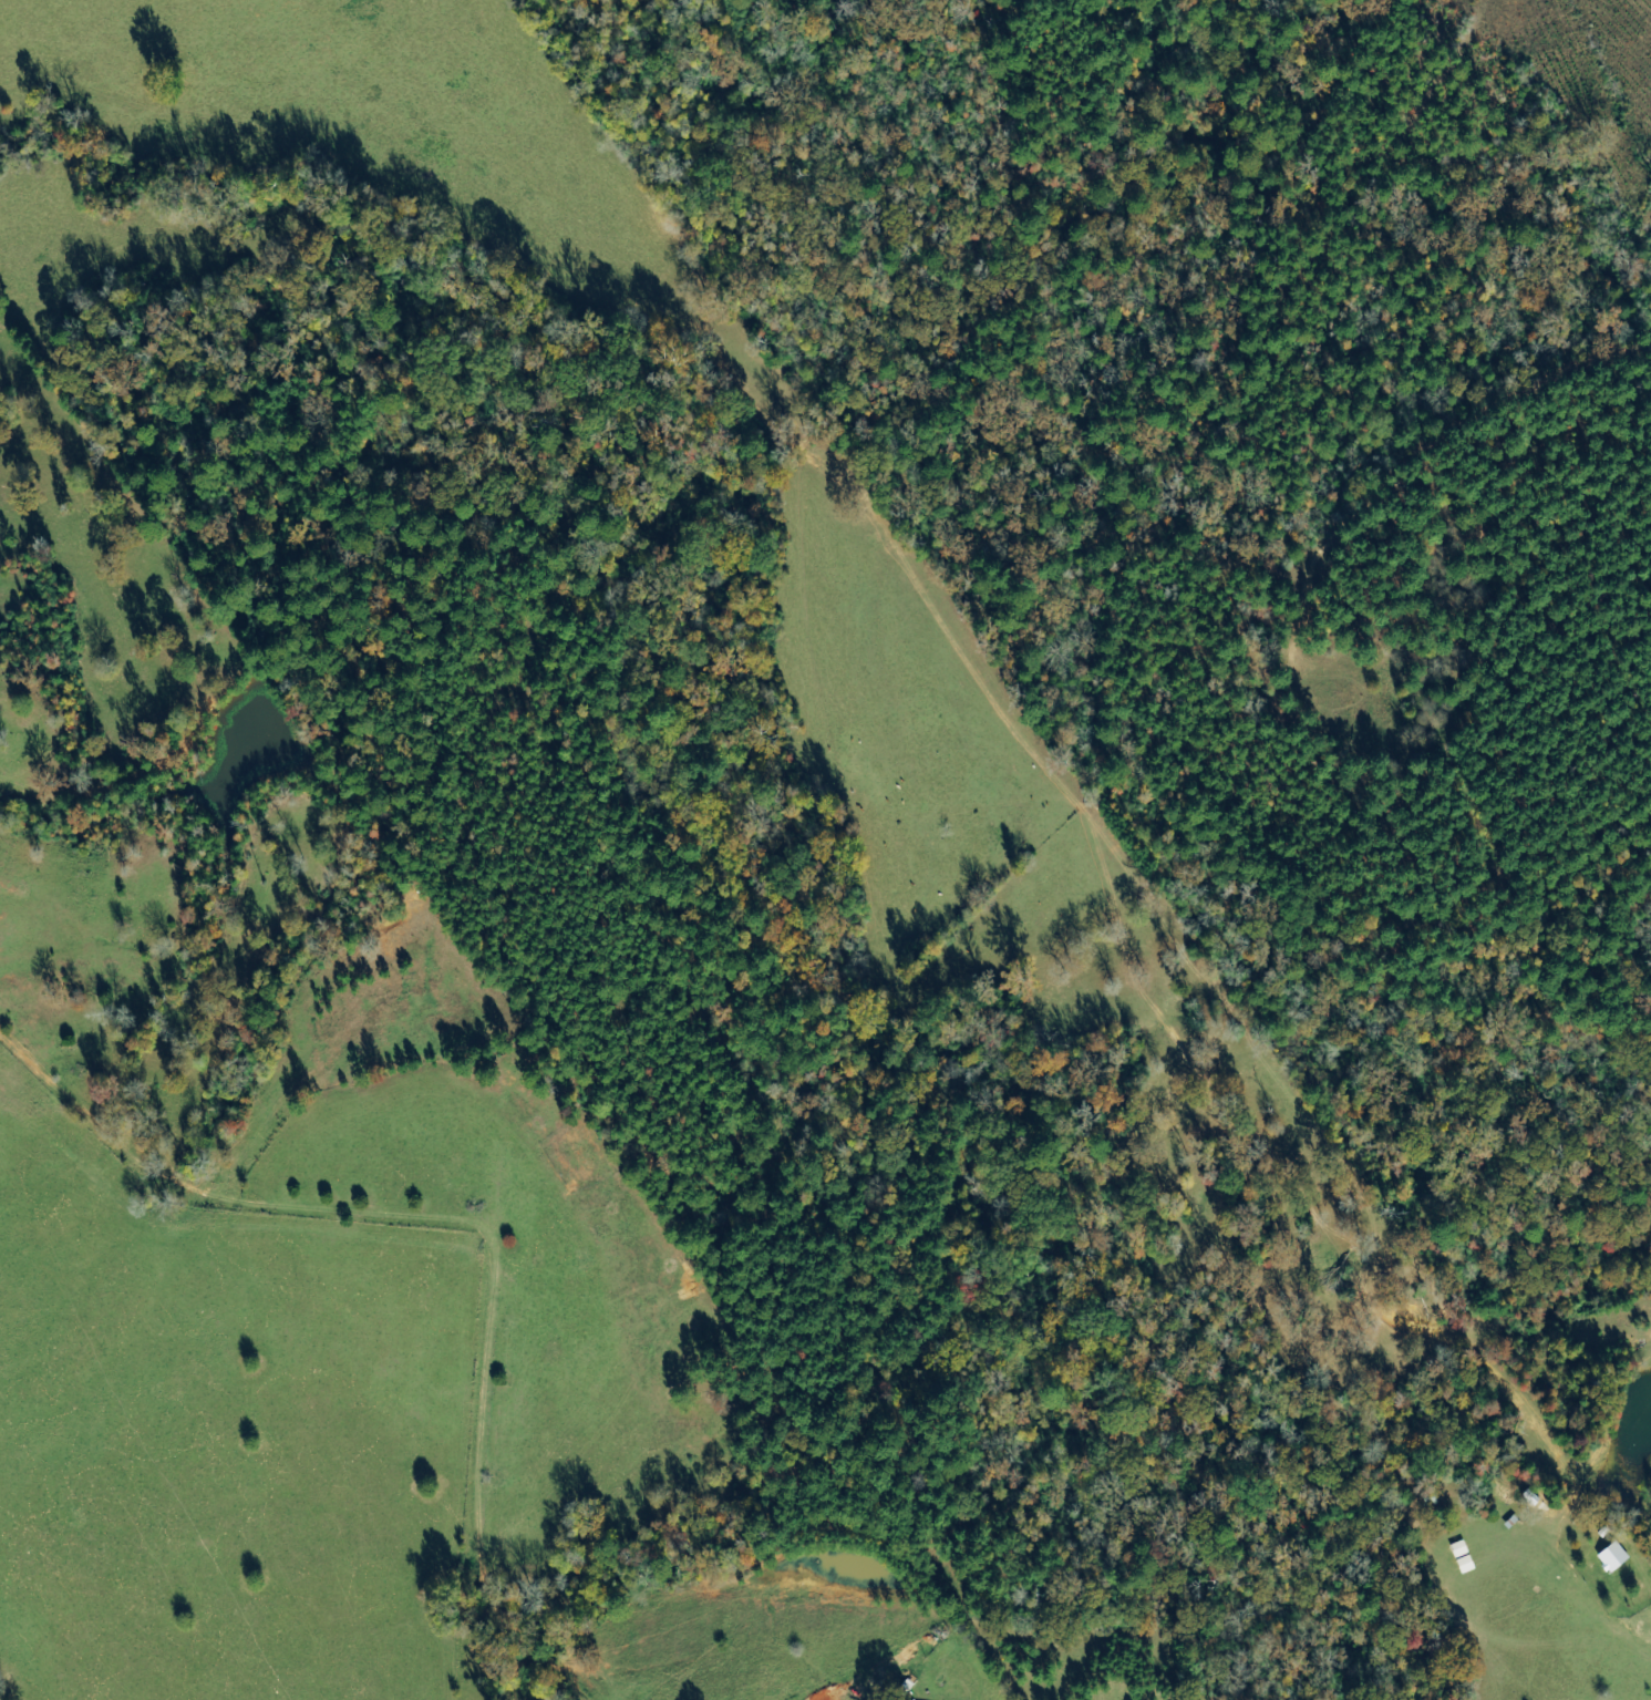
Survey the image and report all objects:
building: (1610, 1555)

